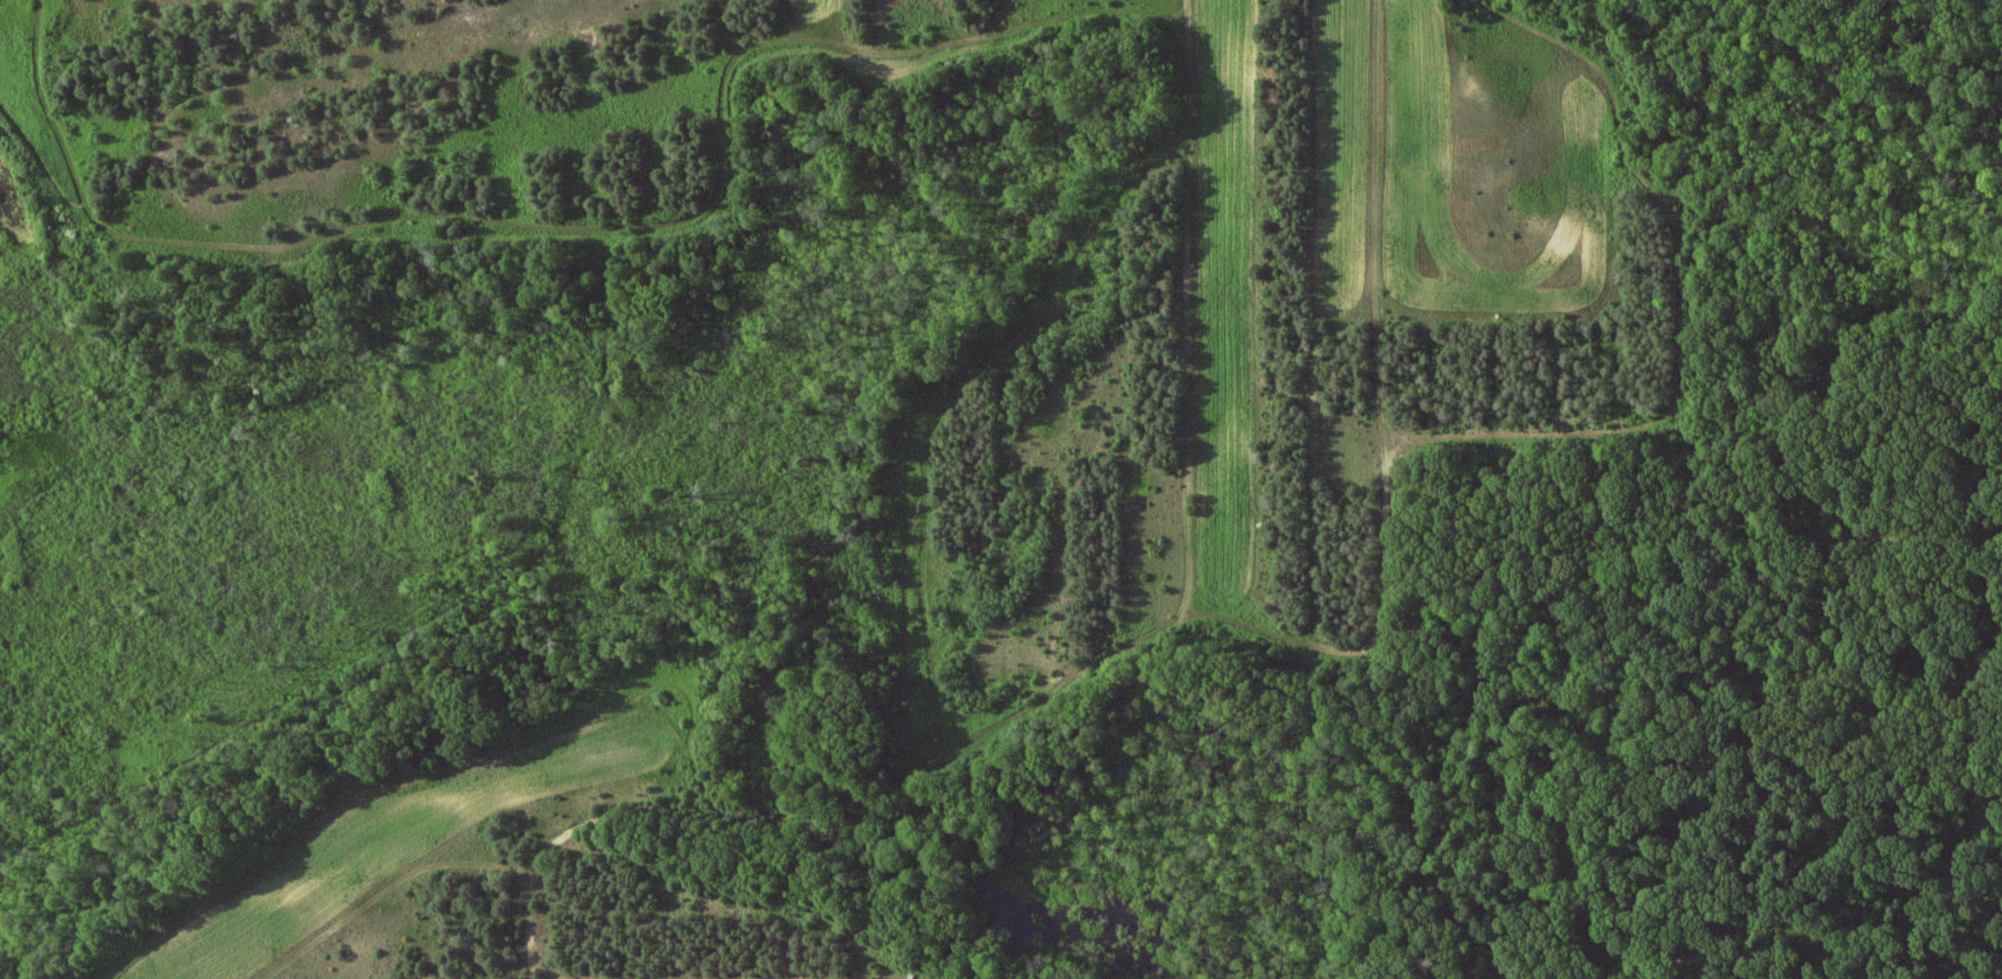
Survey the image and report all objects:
road: (1594, 433)

